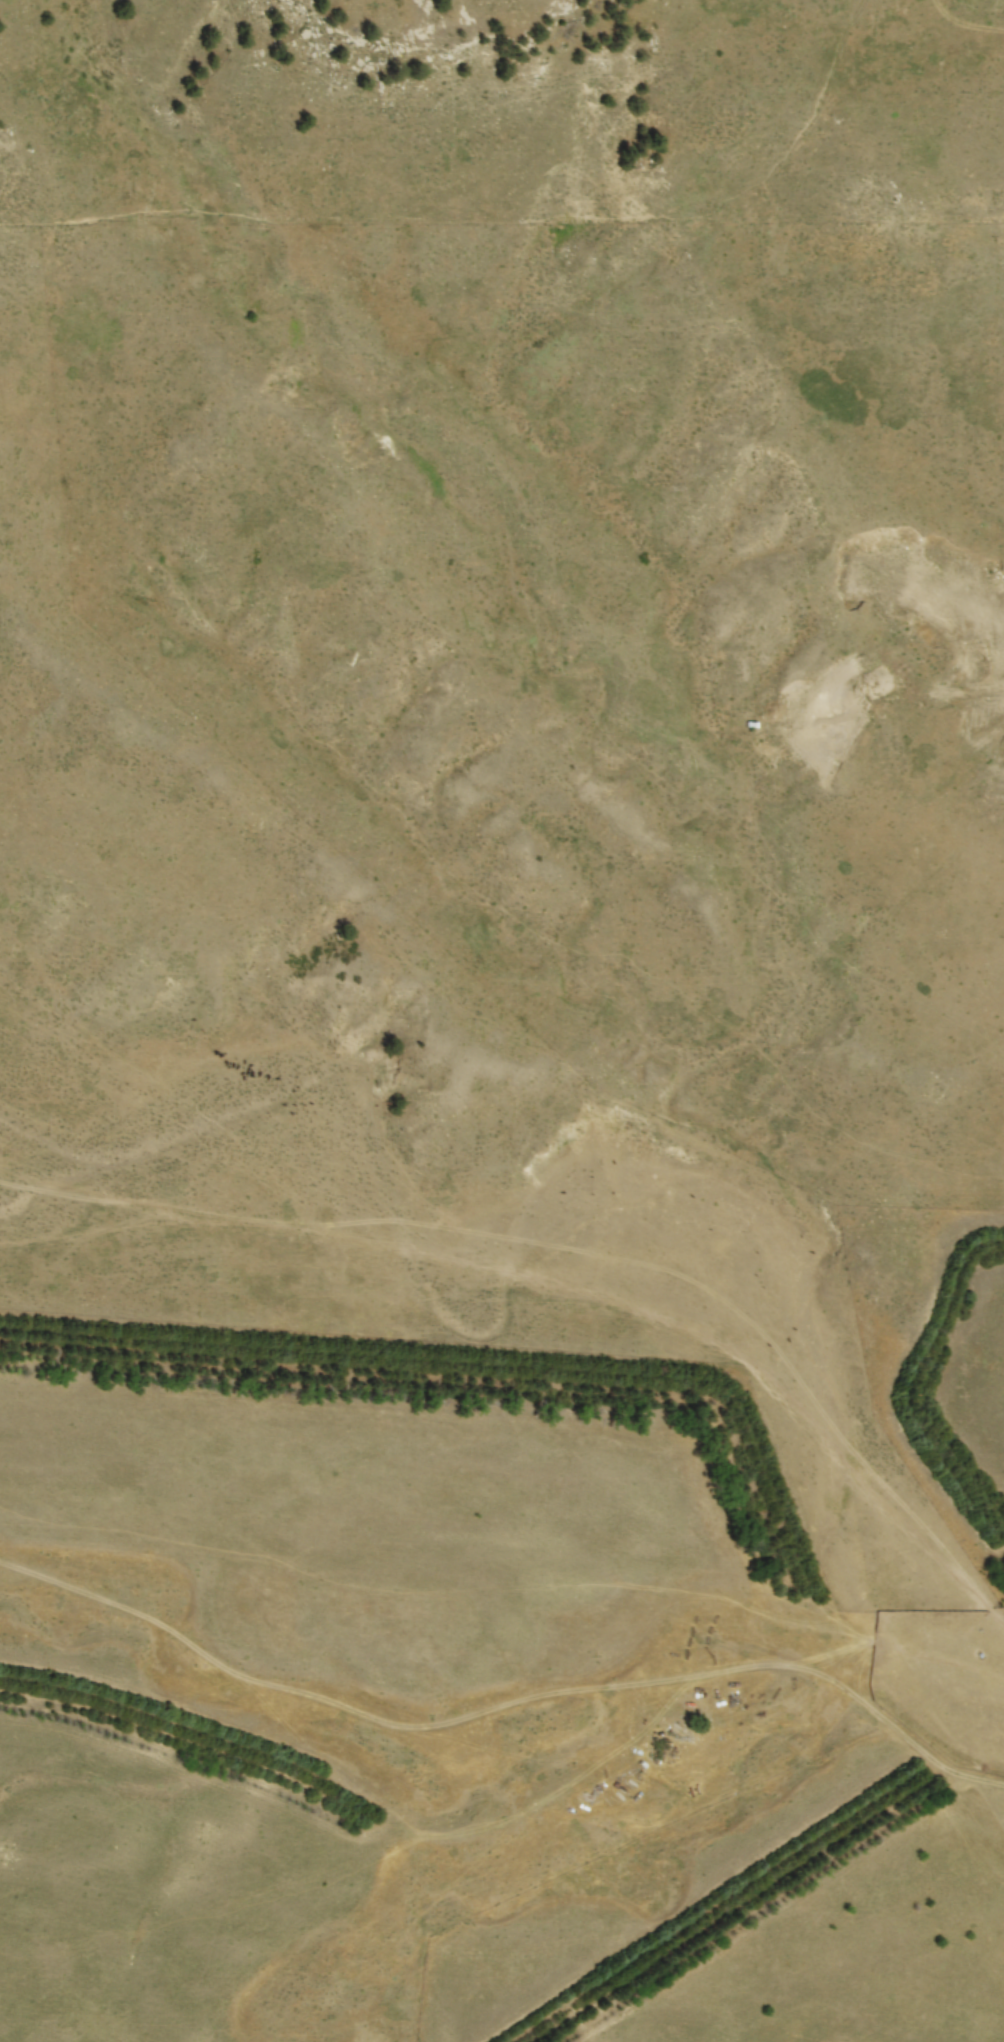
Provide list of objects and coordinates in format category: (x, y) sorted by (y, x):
road: (978, 1775)

